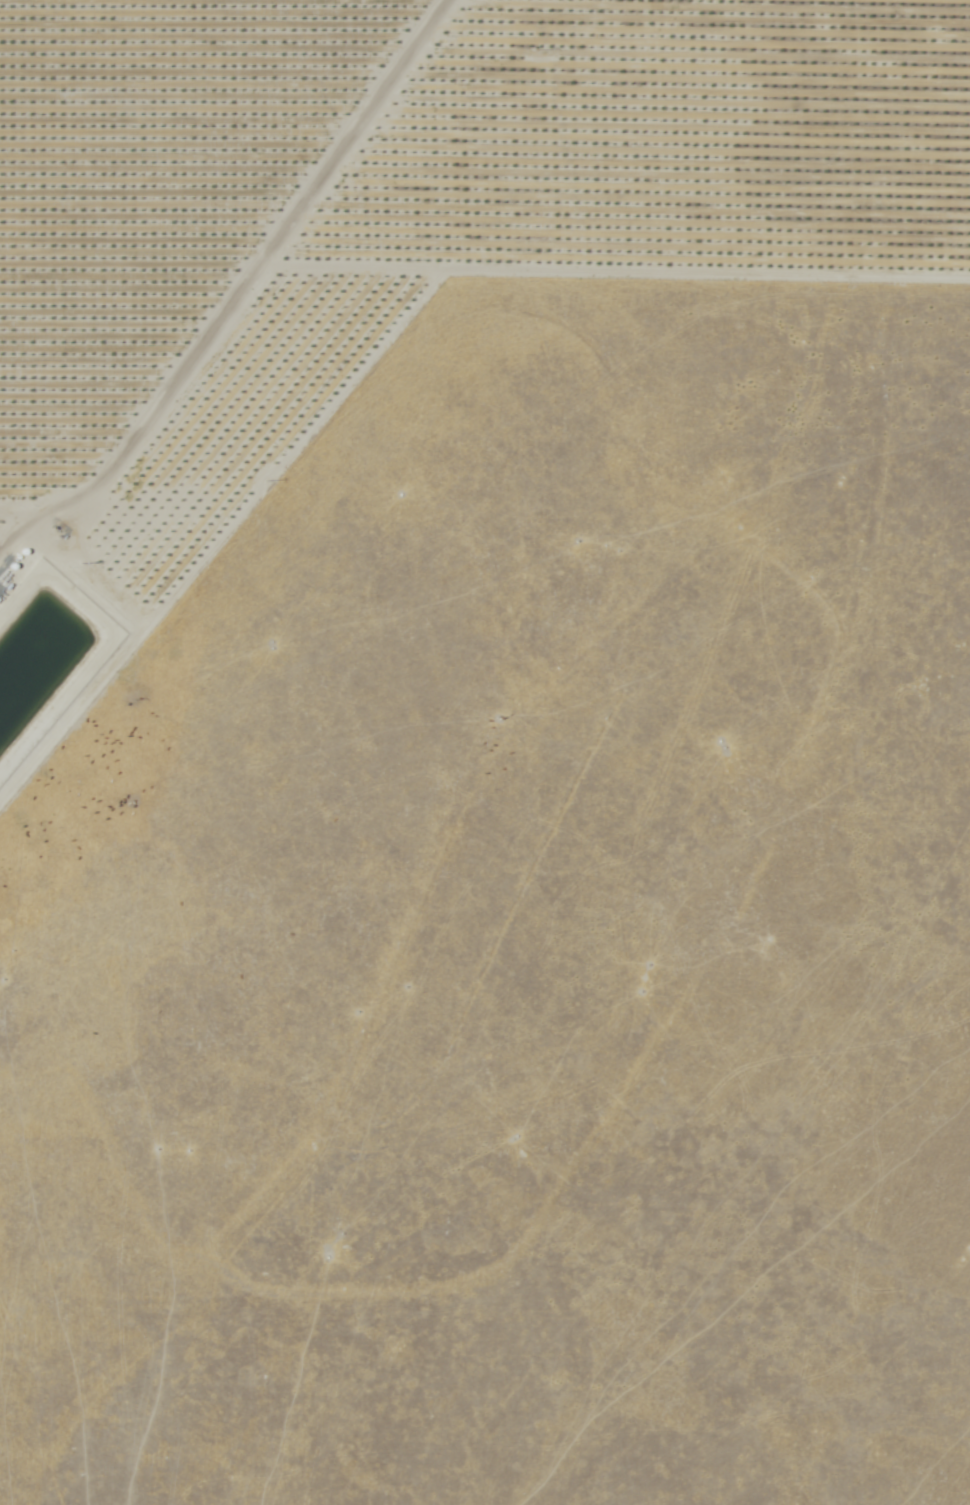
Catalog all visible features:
crop: (441, 162)
crop: (253, 417)

